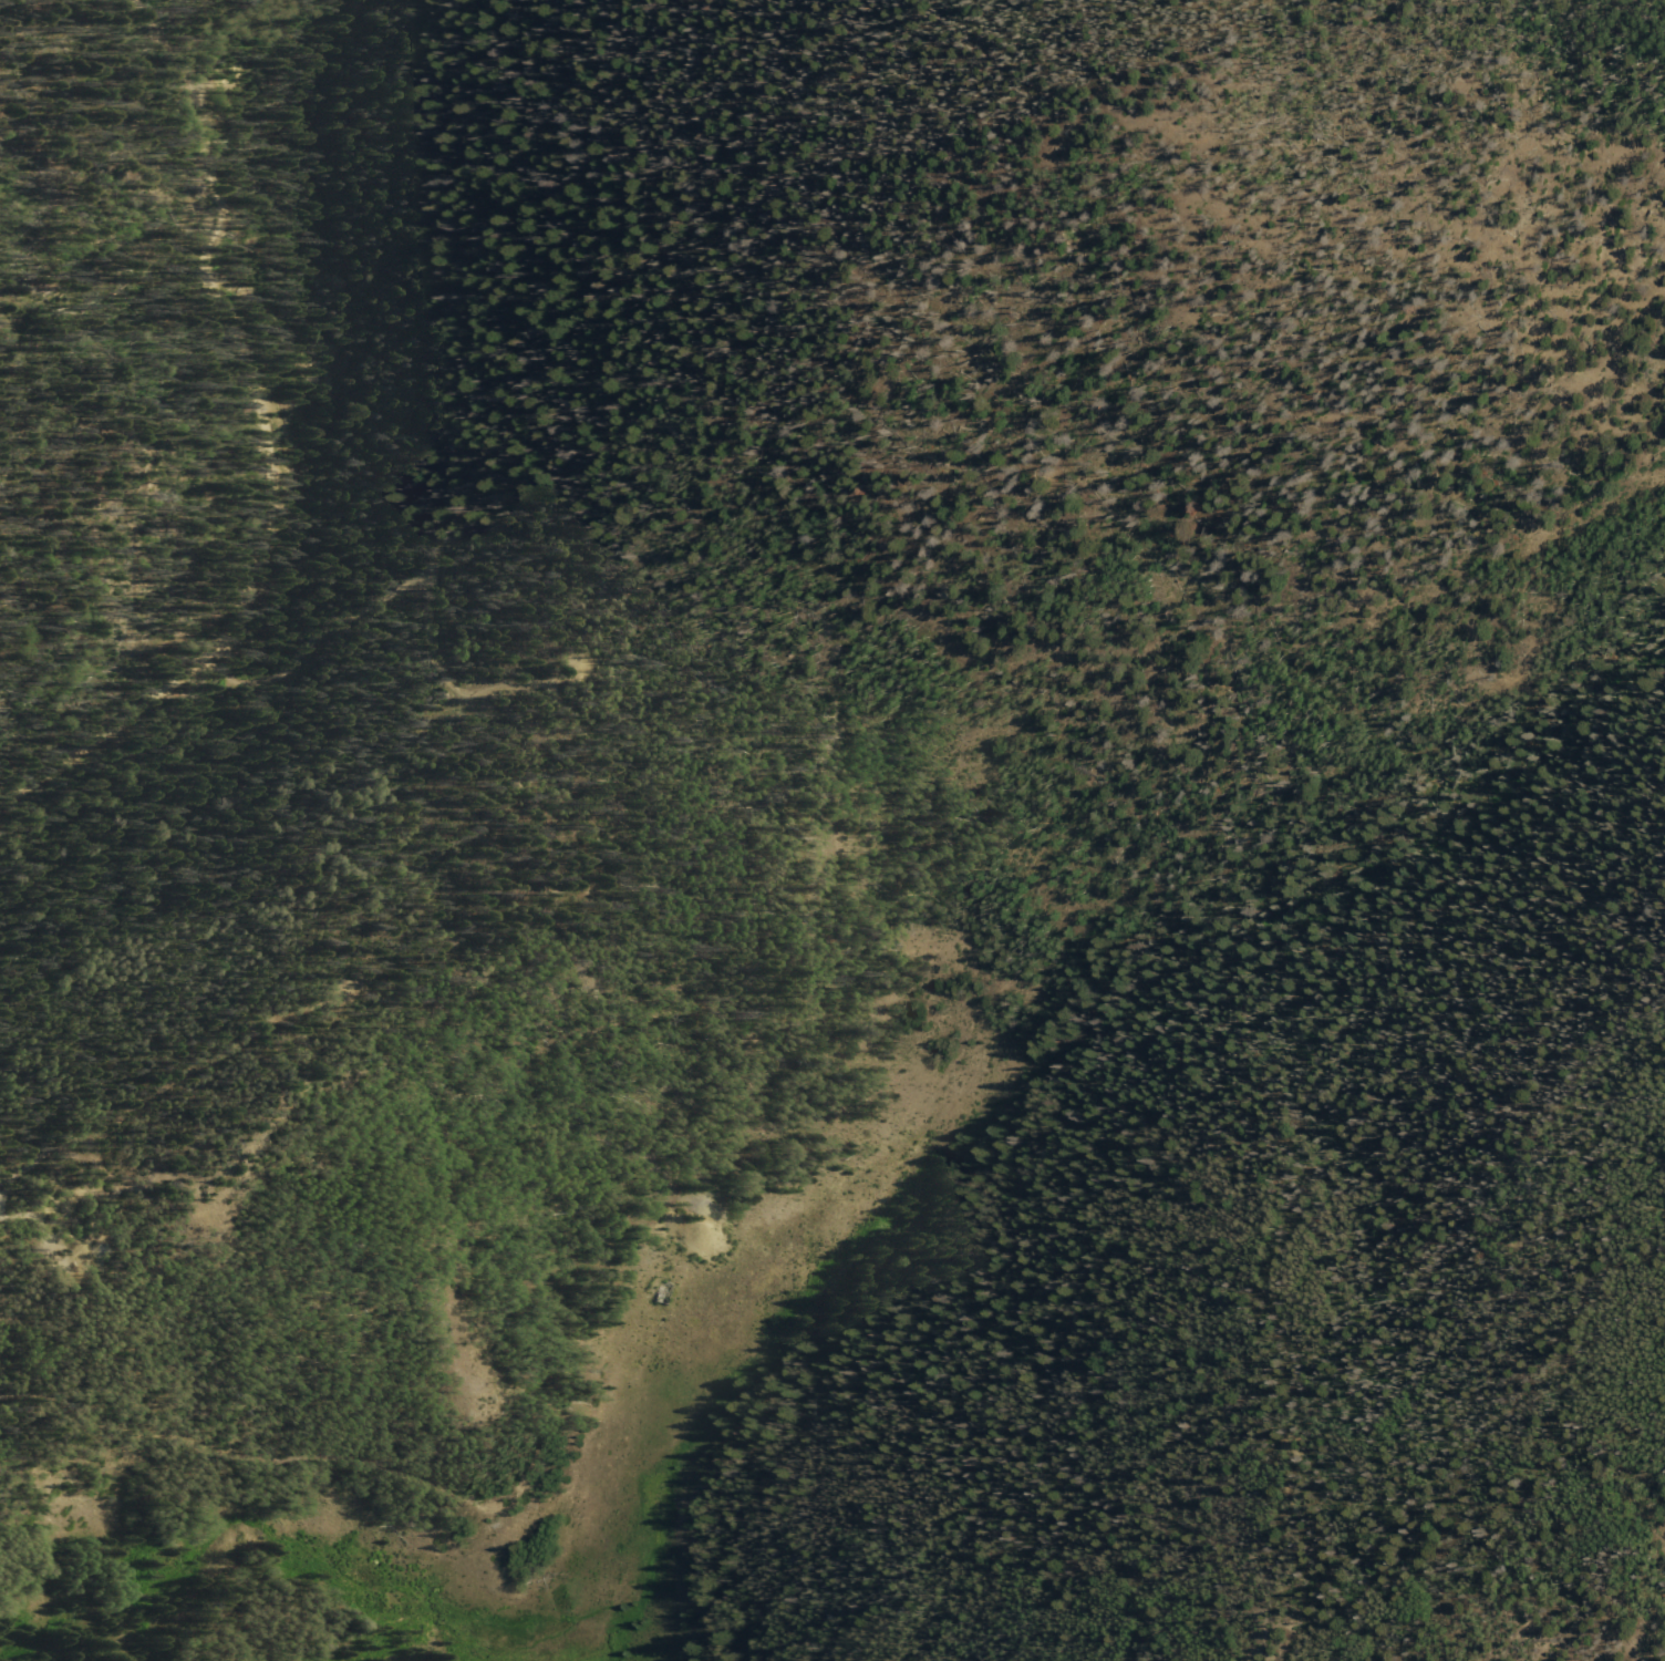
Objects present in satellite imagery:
road: (393, 251)
road: (273, 448)

